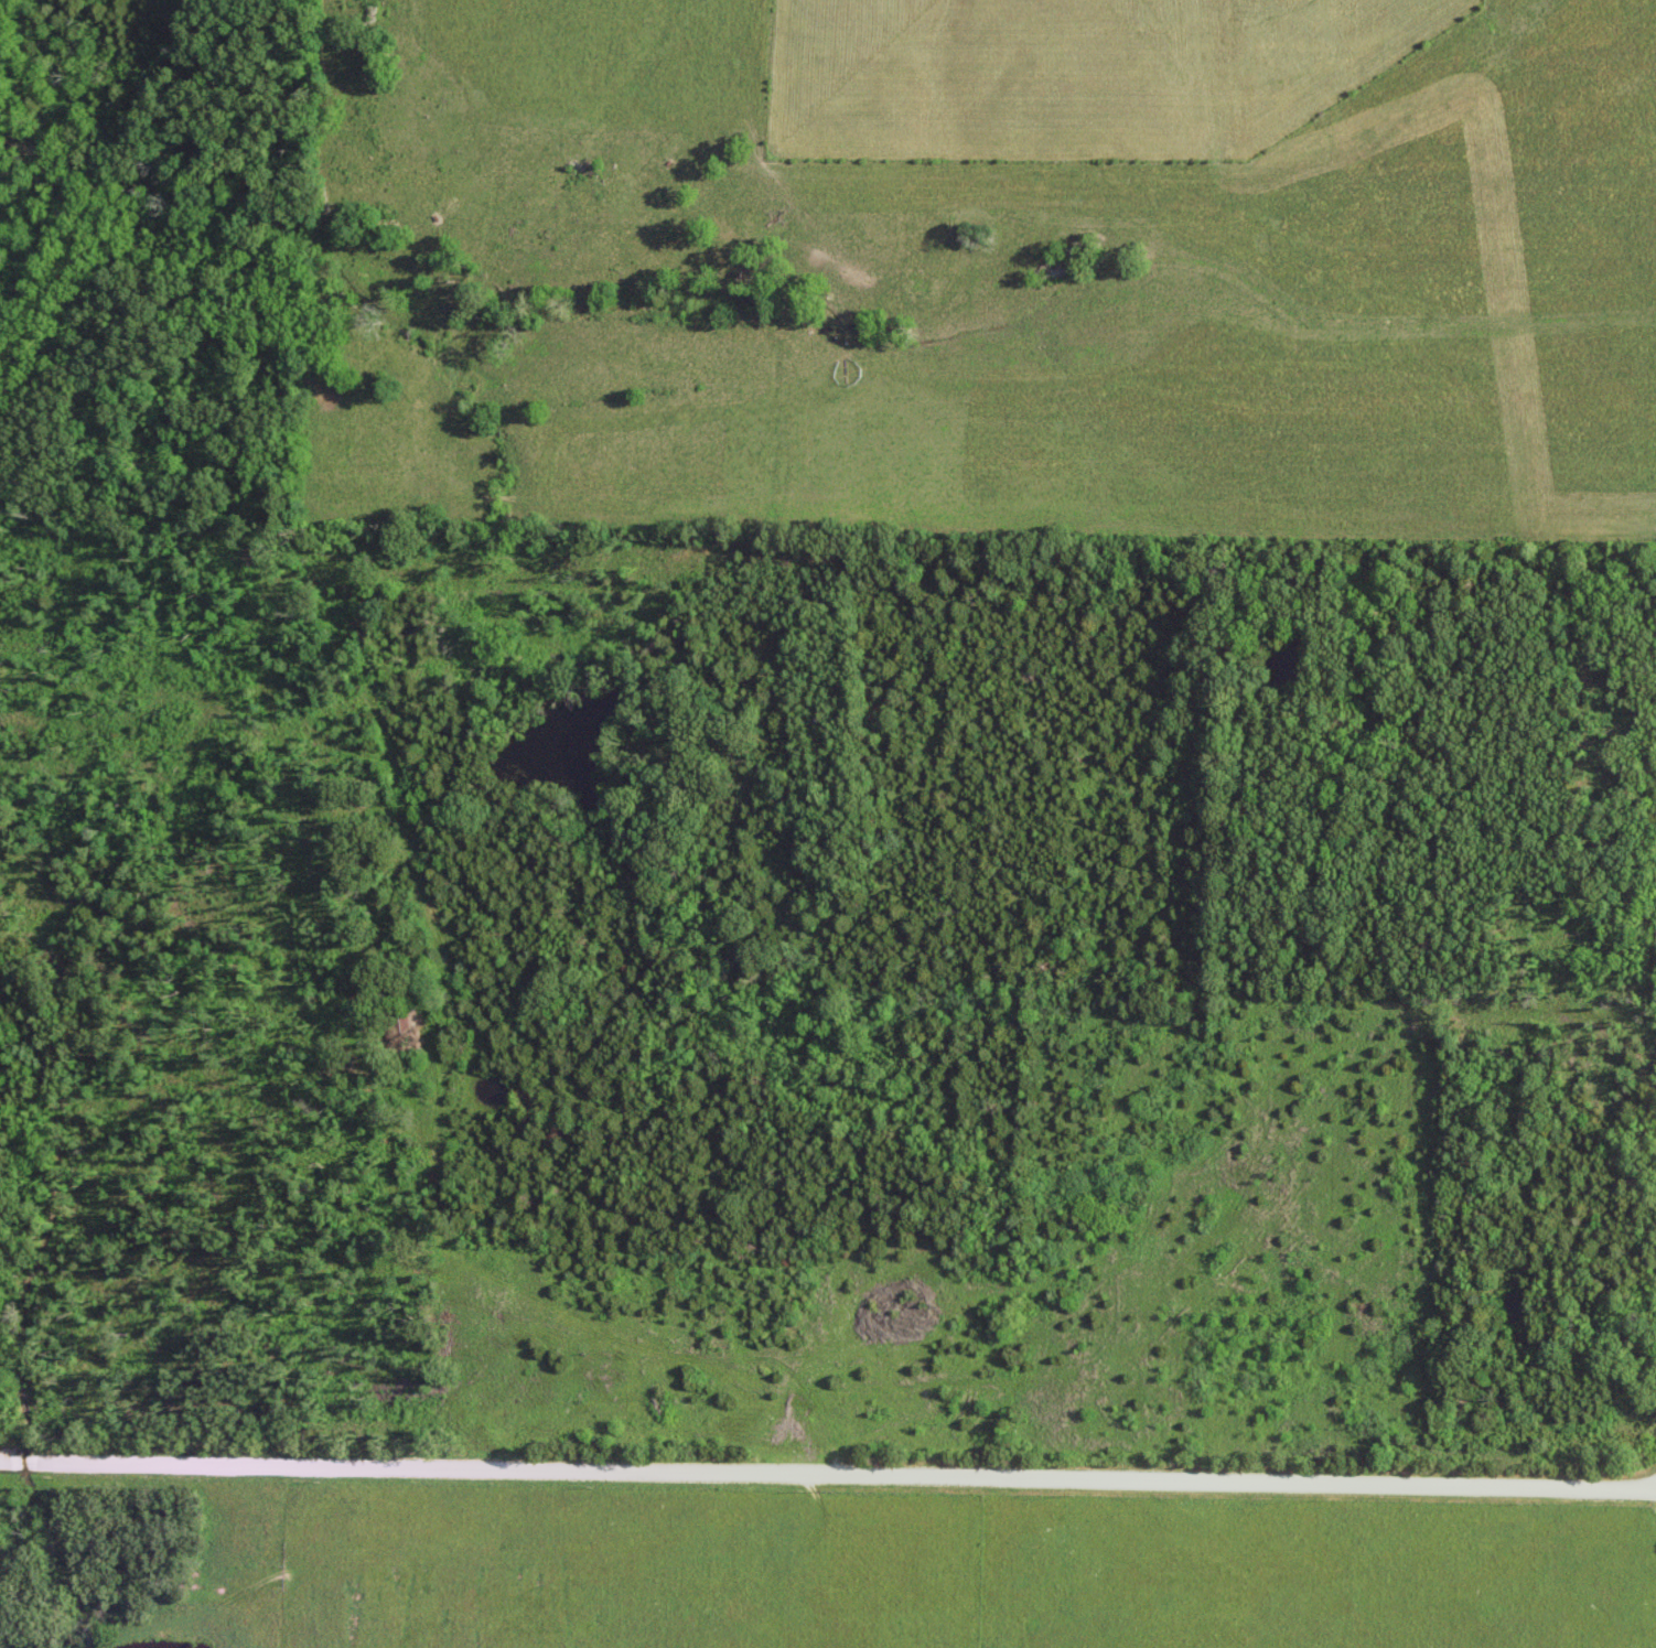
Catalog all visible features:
road: (827, 1471)

